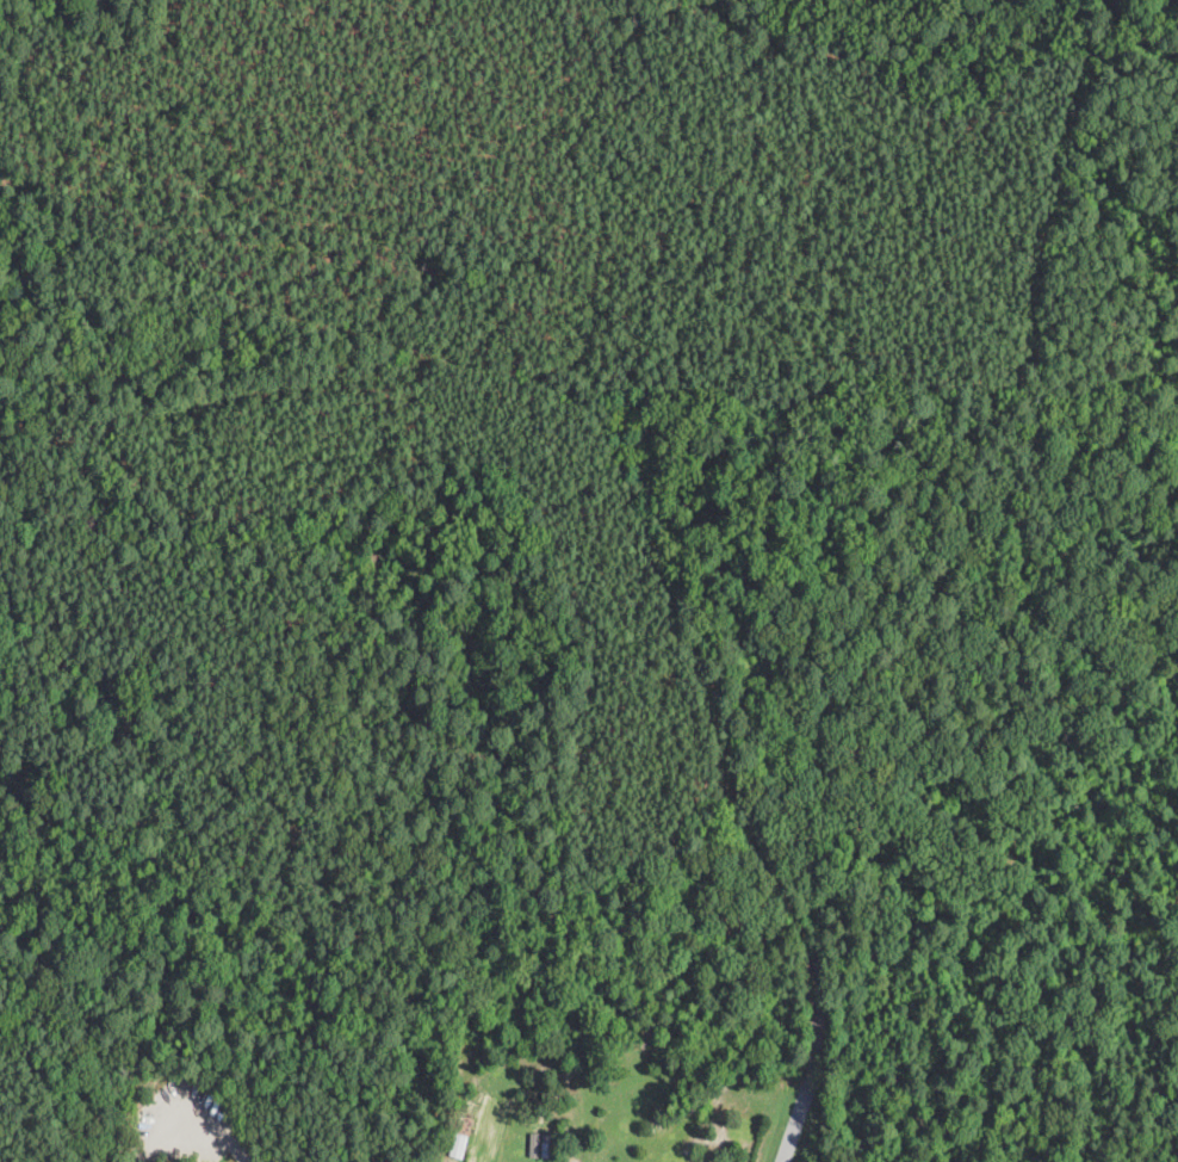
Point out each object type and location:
road: (191, 1113)
building: (467, 1123)
road: (790, 1132)
building: (465, 1133)
building: (546, 1137)
building: (535, 1143)
building: (545, 1152)

